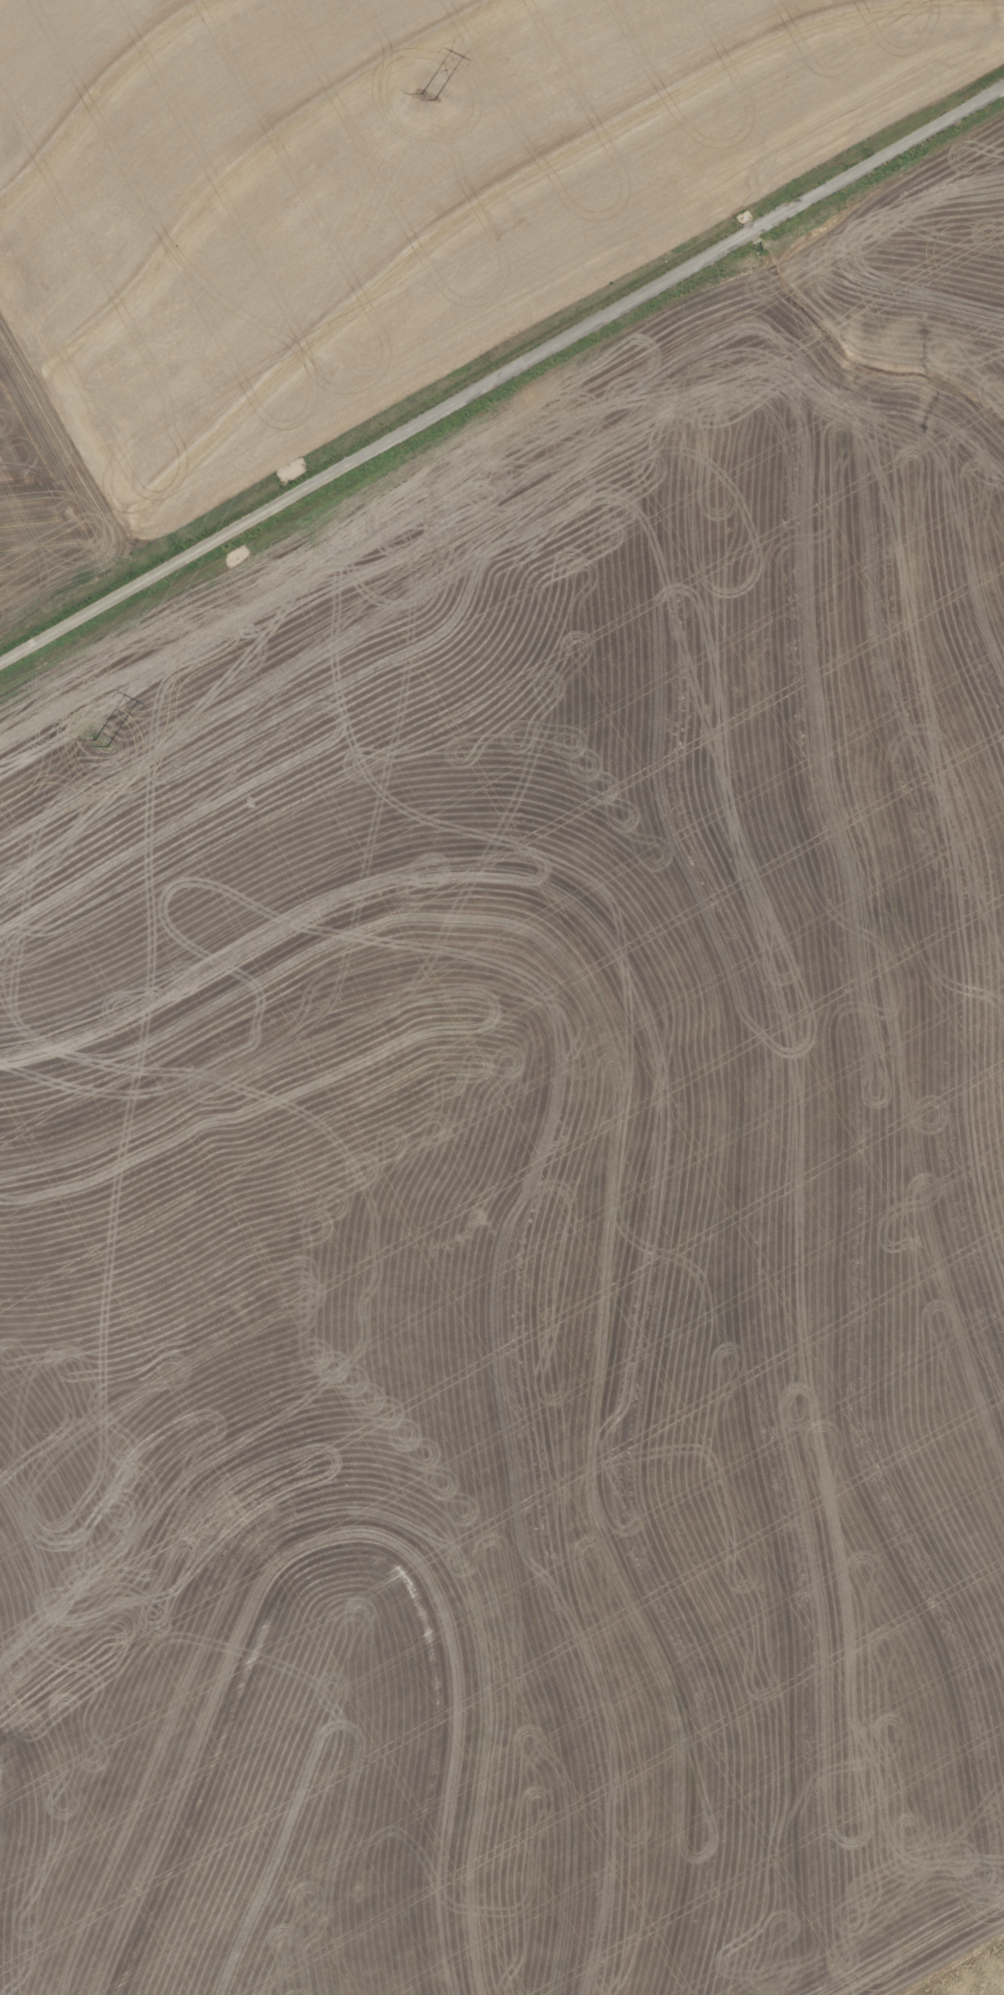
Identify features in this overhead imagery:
power tower: (426, 98)
road: (502, 375)
power tower: (99, 743)

